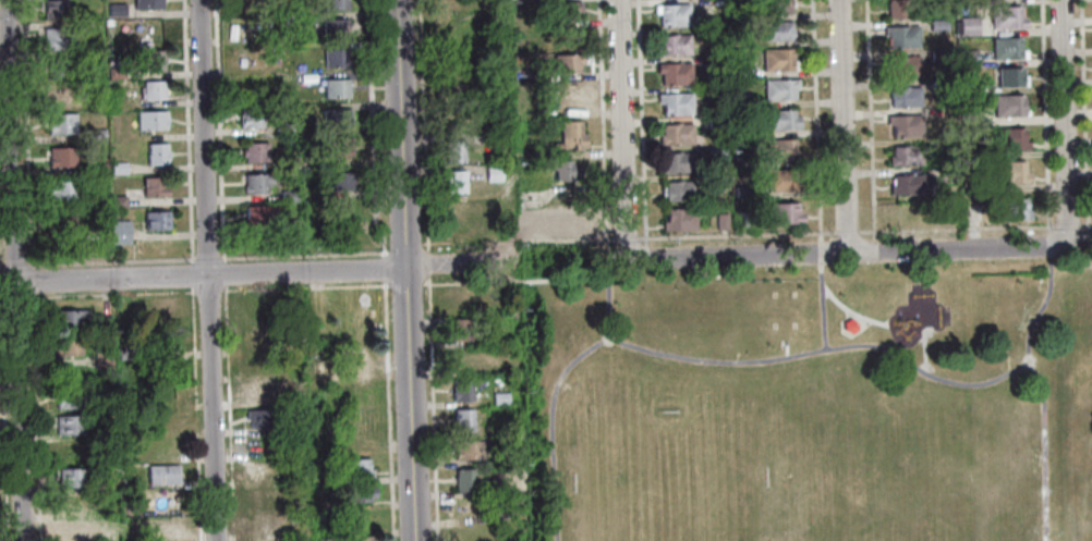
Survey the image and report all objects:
building: (937, 1)
building: (246, 2)
building: (335, 3)
building: (149, 4)
building: (450, 5)
building: (118, 7)
building: (776, 7)
building: (900, 8)
building: (56, 9)
building: (563, 10)
building: (670, 14)
building: (739, 14)
building: (1005, 17)
building: (697, 21)
building: (936, 25)
building: (966, 25)
building: (332, 26)
building: (252, 28)
building: (148, 29)
building: (452, 30)
building: (775, 30)
building: (900, 35)
building: (58, 38)
building: (672, 44)
building: (1005, 48)
building: (936, 54)
building: (252, 57)
building: (967, 57)
building: (333, 58)
building: (777, 59)
building: (713, 62)
building: (566, 63)
building: (902, 66)
building: (738, 70)
building: (116, 71)
building: (530, 71)
building: (672, 73)
building: (566, 75)
building: (1009, 76)
building: (61, 84)
building: (963, 85)
building: (937, 86)
building: (335, 87)
building: (777, 88)
building: (154, 89)
building: (458, 90)
building: (903, 96)
building: (567, 98)
building: (739, 101)
building: (678, 103)
building: (1007, 106)
building: (525, 110)
road: (1081, 112)
building: (966, 114)
road: (867, 115)
road: (1042, 116)
building: (248, 118)
building: (335, 118)
road: (602, 119)
road: (639, 119)
building: (777, 119)
building: (154, 120)
road: (813, 120)
building: (62, 122)
building: (457, 122)
building: (714, 123)
road: (1064, 123)
building: (903, 124)
road: (423, 125)
road: (842, 126)
road: (220, 128)
building: (281, 128)
road: (186, 130)
road: (373, 130)
road: (621, 130)
building: (740, 132)
road: (25, 133)
building: (97, 133)
building: (676, 133)
building: (569, 136)
building: (1009, 138)
building: (937, 145)
building: (338, 147)
building: (777, 149)
building: (453, 150)
building: (253, 151)
building: (714, 151)
building: (158, 153)
building: (903, 155)
building: (63, 156)
building: (741, 160)
building: (287, 161)
building: (677, 162)
building: (99, 167)
building: (120, 167)
building: (562, 170)
building: (492, 172)
building: (1009, 172)
building: (945, 175)
building: (780, 180)
building: (337, 181)
building: (453, 181)
building: (716, 181)
building: (255, 182)
building: (909, 184)
building: (156, 187)
building: (68, 188)
building: (677, 190)
building: (742, 190)
building: (288, 195)
building: (118, 199)
building: (101, 200)
building: (1010, 209)
building: (782, 212)
building: (257, 213)
building: (679, 218)
building: (740, 218)
building: (158, 219)
building: (719, 221)
building: (568, 223)
building: (64, 224)
road: (1066, 224)
building: (288, 225)
road: (956, 228)
road: (845, 231)
building: (121, 232)
road: (733, 234)
road: (624, 238)
road: (515, 239)
road: (1085, 241)
road: (1047, 245)
road: (404, 247)
road: (818, 251)
road: (847, 253)
road: (304, 254)
road: (207, 257)
road: (110, 259)
road: (572, 261)
road: (426, 262)
road: (1, 263)
road: (13, 263)
road: (1079, 266)
road: (381, 267)
road: (14, 270)
road: (206, 270)
road: (258, 270)
road: (403, 270)
road: (191, 274)
road: (562, 279)
road: (29, 280)
road: (223, 280)
road: (470, 282)
road: (404, 283)
road: (303, 286)
road: (207, 291)
road: (161, 292)
road: (14, 297)
road: (60, 297)
road: (2, 298)
building: (461, 298)
road: (820, 306)
building: (165, 308)
building: (354, 310)
road: (848, 311)
building: (66, 318)
building: (102, 322)
building: (847, 324)
building: (458, 329)
road: (845, 333)
building: (158, 342)
building: (65, 345)
road: (922, 348)
building: (125, 349)
road: (823, 349)
road: (784, 351)
building: (100, 357)
building: (462, 359)
building: (351, 360)
building: (262, 367)
road: (558, 379)
building: (459, 390)
building: (259, 391)
road: (1041, 393)
building: (499, 397)
building: (66, 398)
building: (292, 399)
park: (805, 403)
road: (432, 407)
road: (387, 410)
road: (194, 414)
road: (227, 414)
road: (34, 417)
building: (259, 417)
building: (461, 419)
building: (68, 425)
building: (293, 425)
building: (356, 432)
road: (3, 437)
building: (466, 448)
building: (73, 451)
building: (354, 467)
building: (264, 471)
building: (161, 474)
building: (70, 477)
building: (463, 479)
building: (359, 493)
building: (267, 497)
building: (165, 500)
building: (75, 503)
building: (468, 509)
building: (268, 524)
building: (163, 527)
building: (72, 529)
building: (359, 538)

